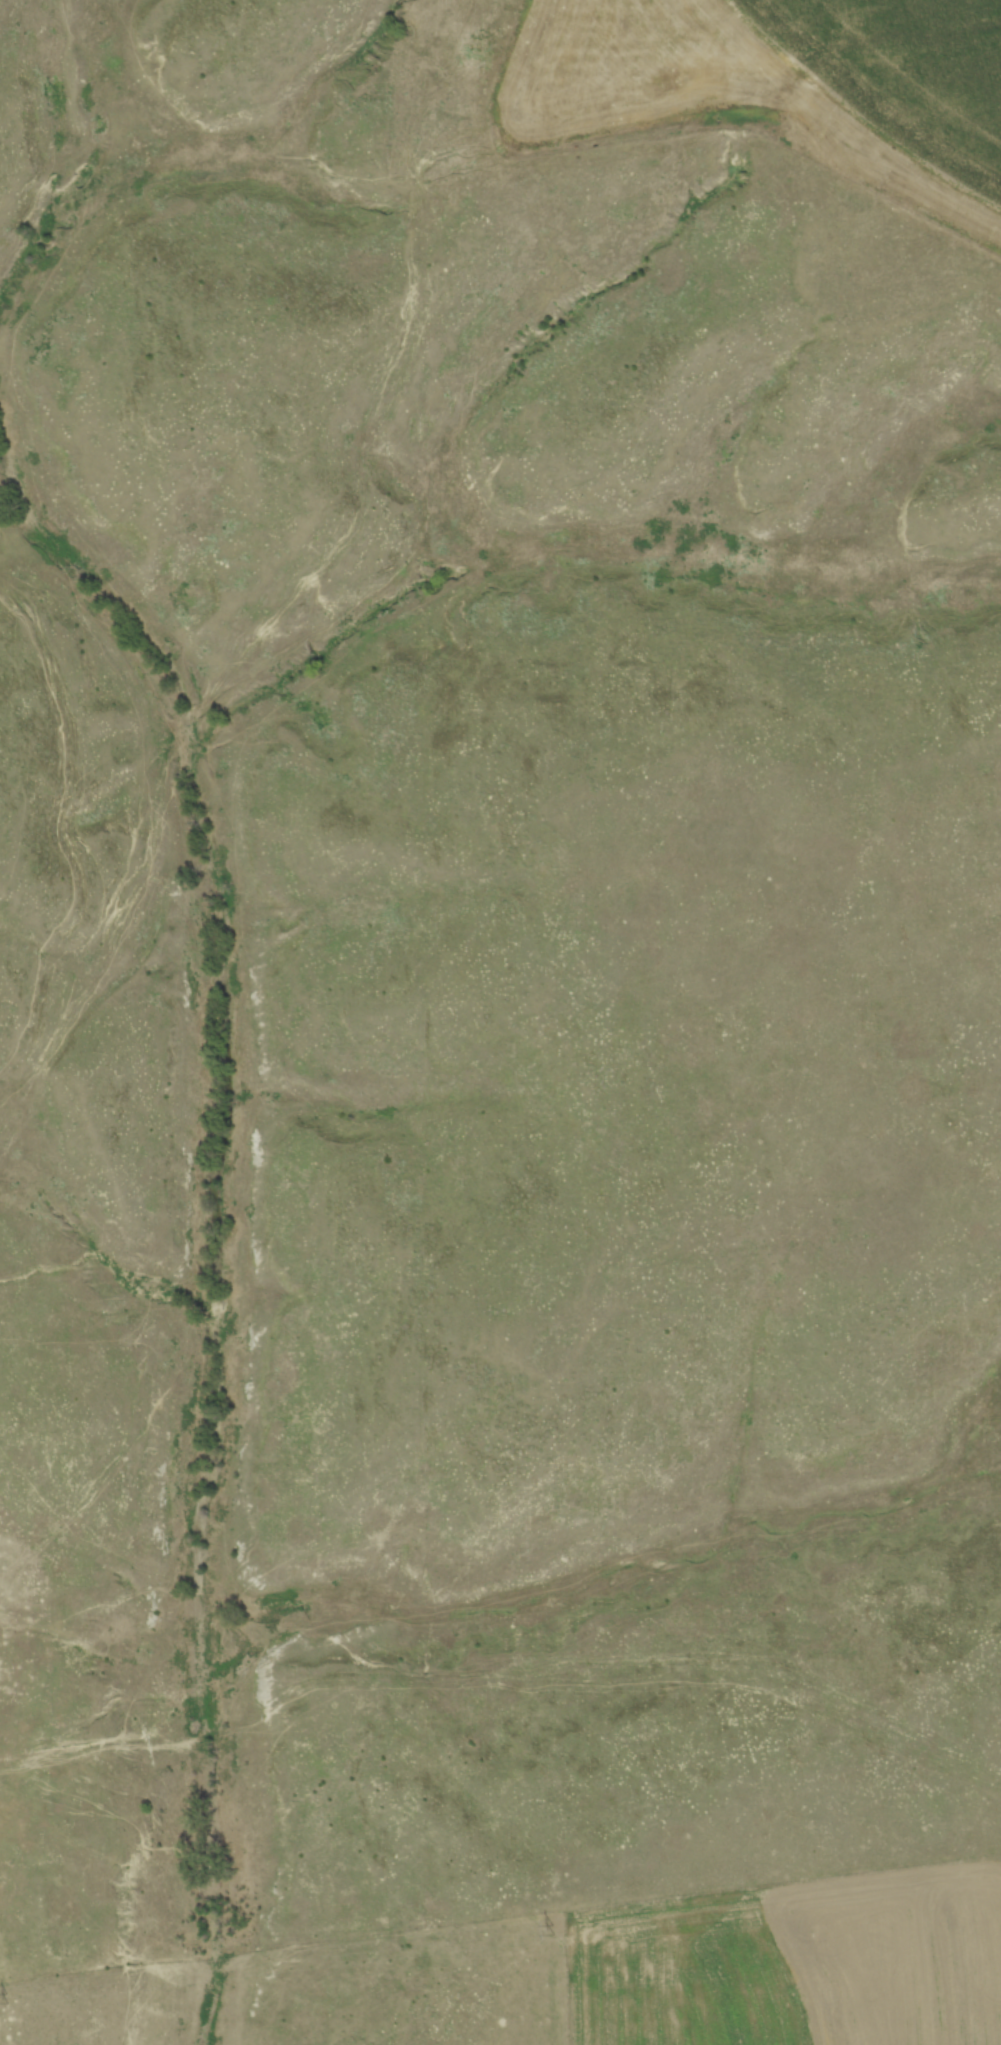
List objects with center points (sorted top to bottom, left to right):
power tower: (553, 1930)
power tower: (8, 1999)

